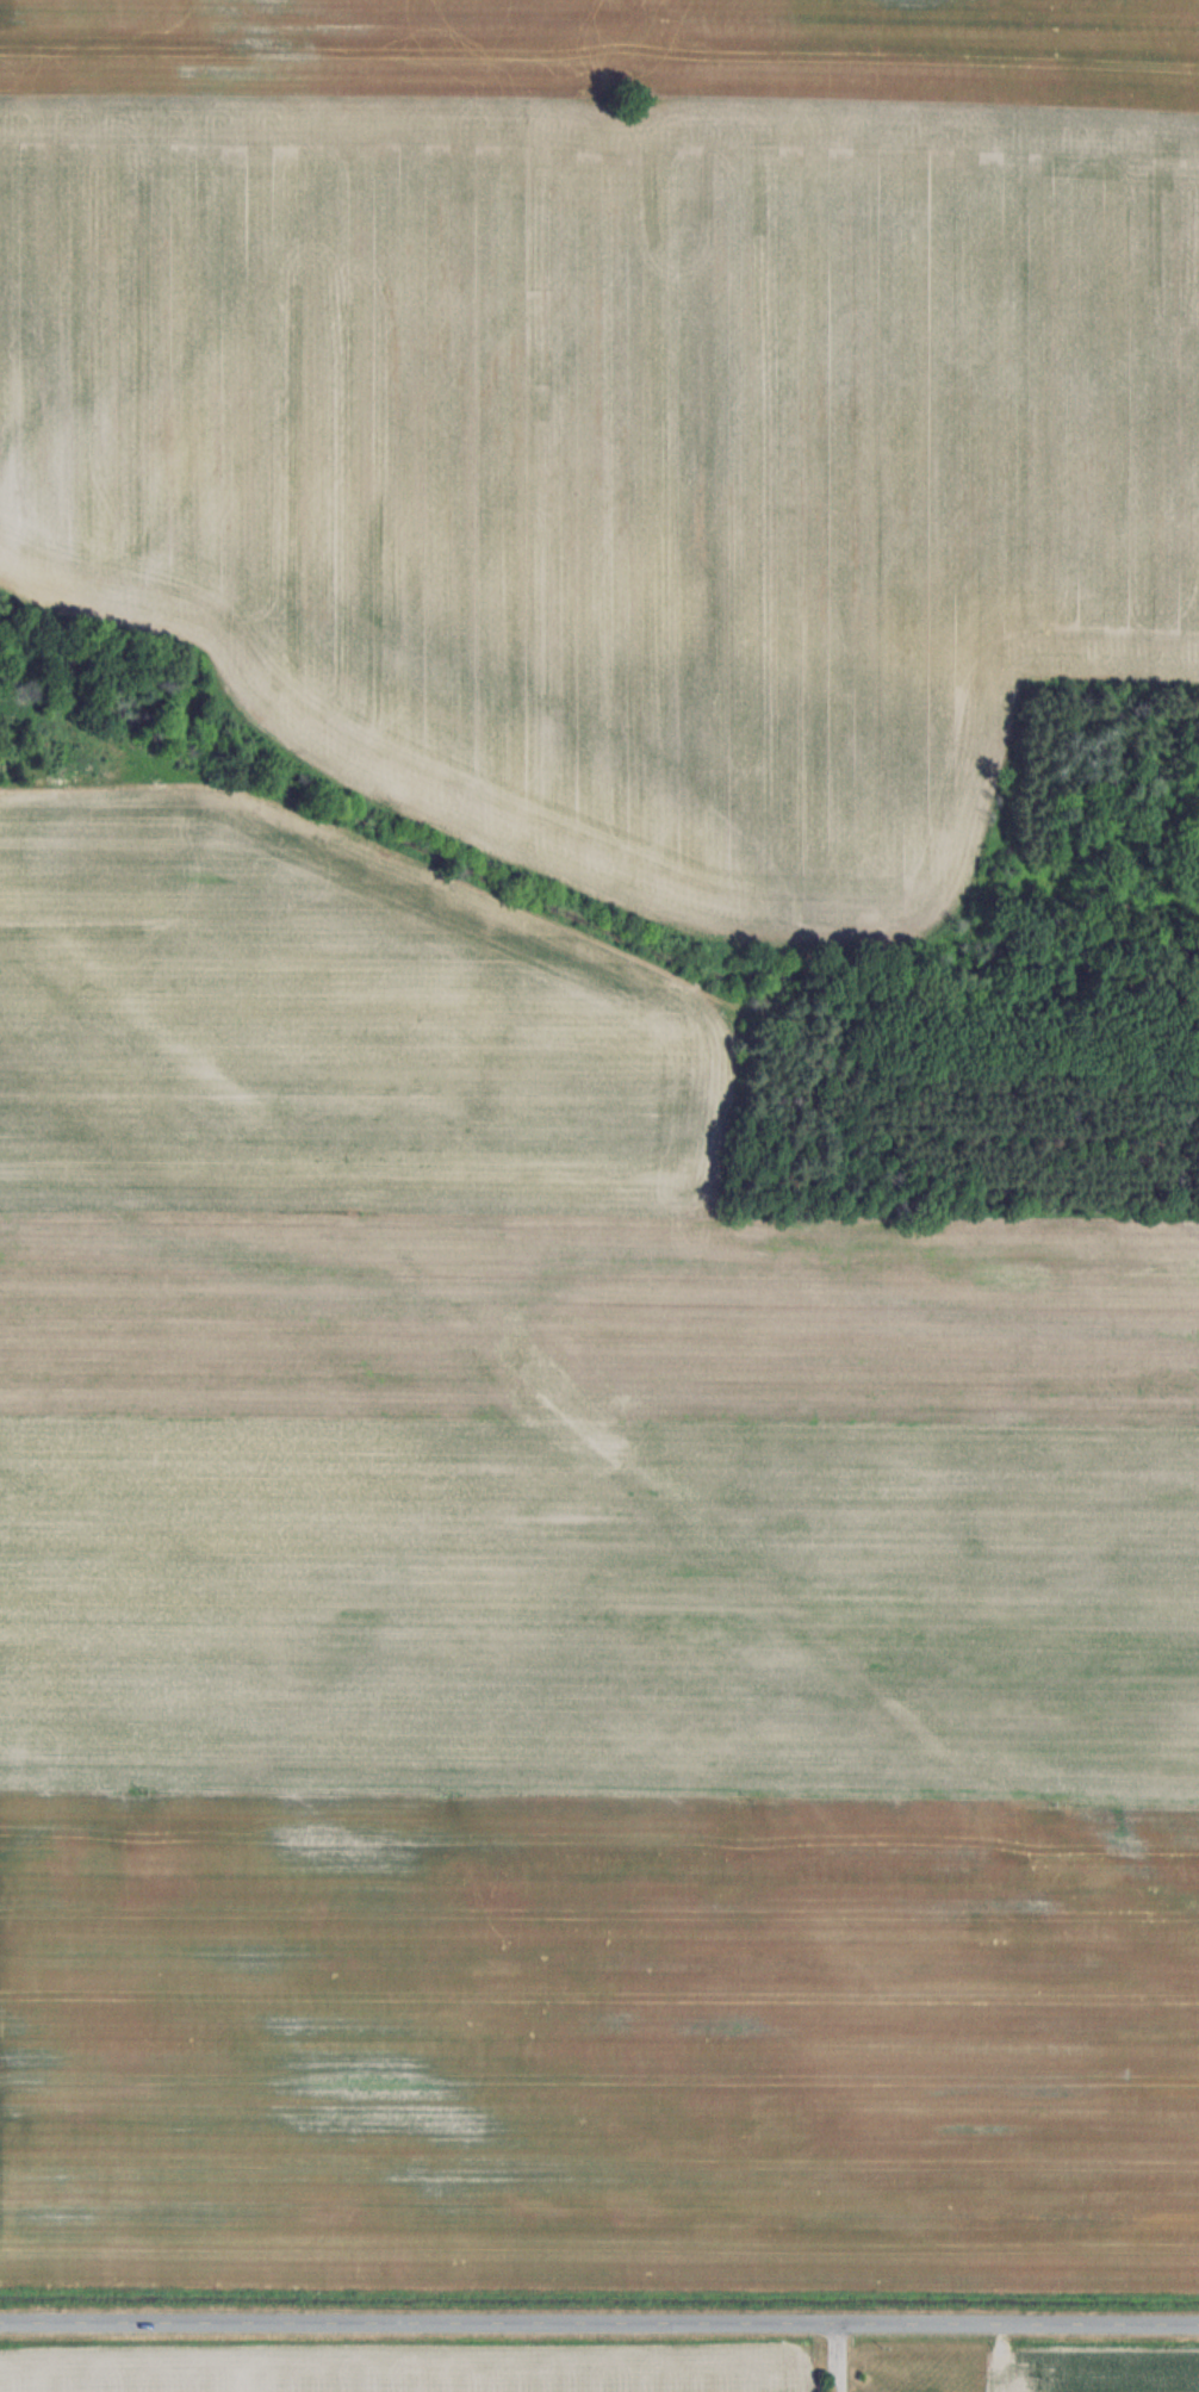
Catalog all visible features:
road: (598, 2320)
road: (844, 2356)

